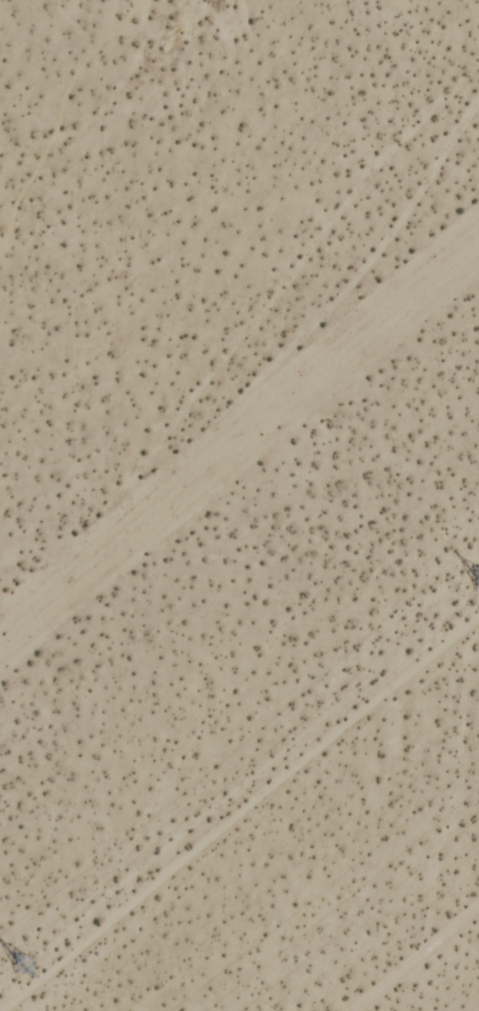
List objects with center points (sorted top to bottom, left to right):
road: (413, 955)
power tower: (31, 958)

